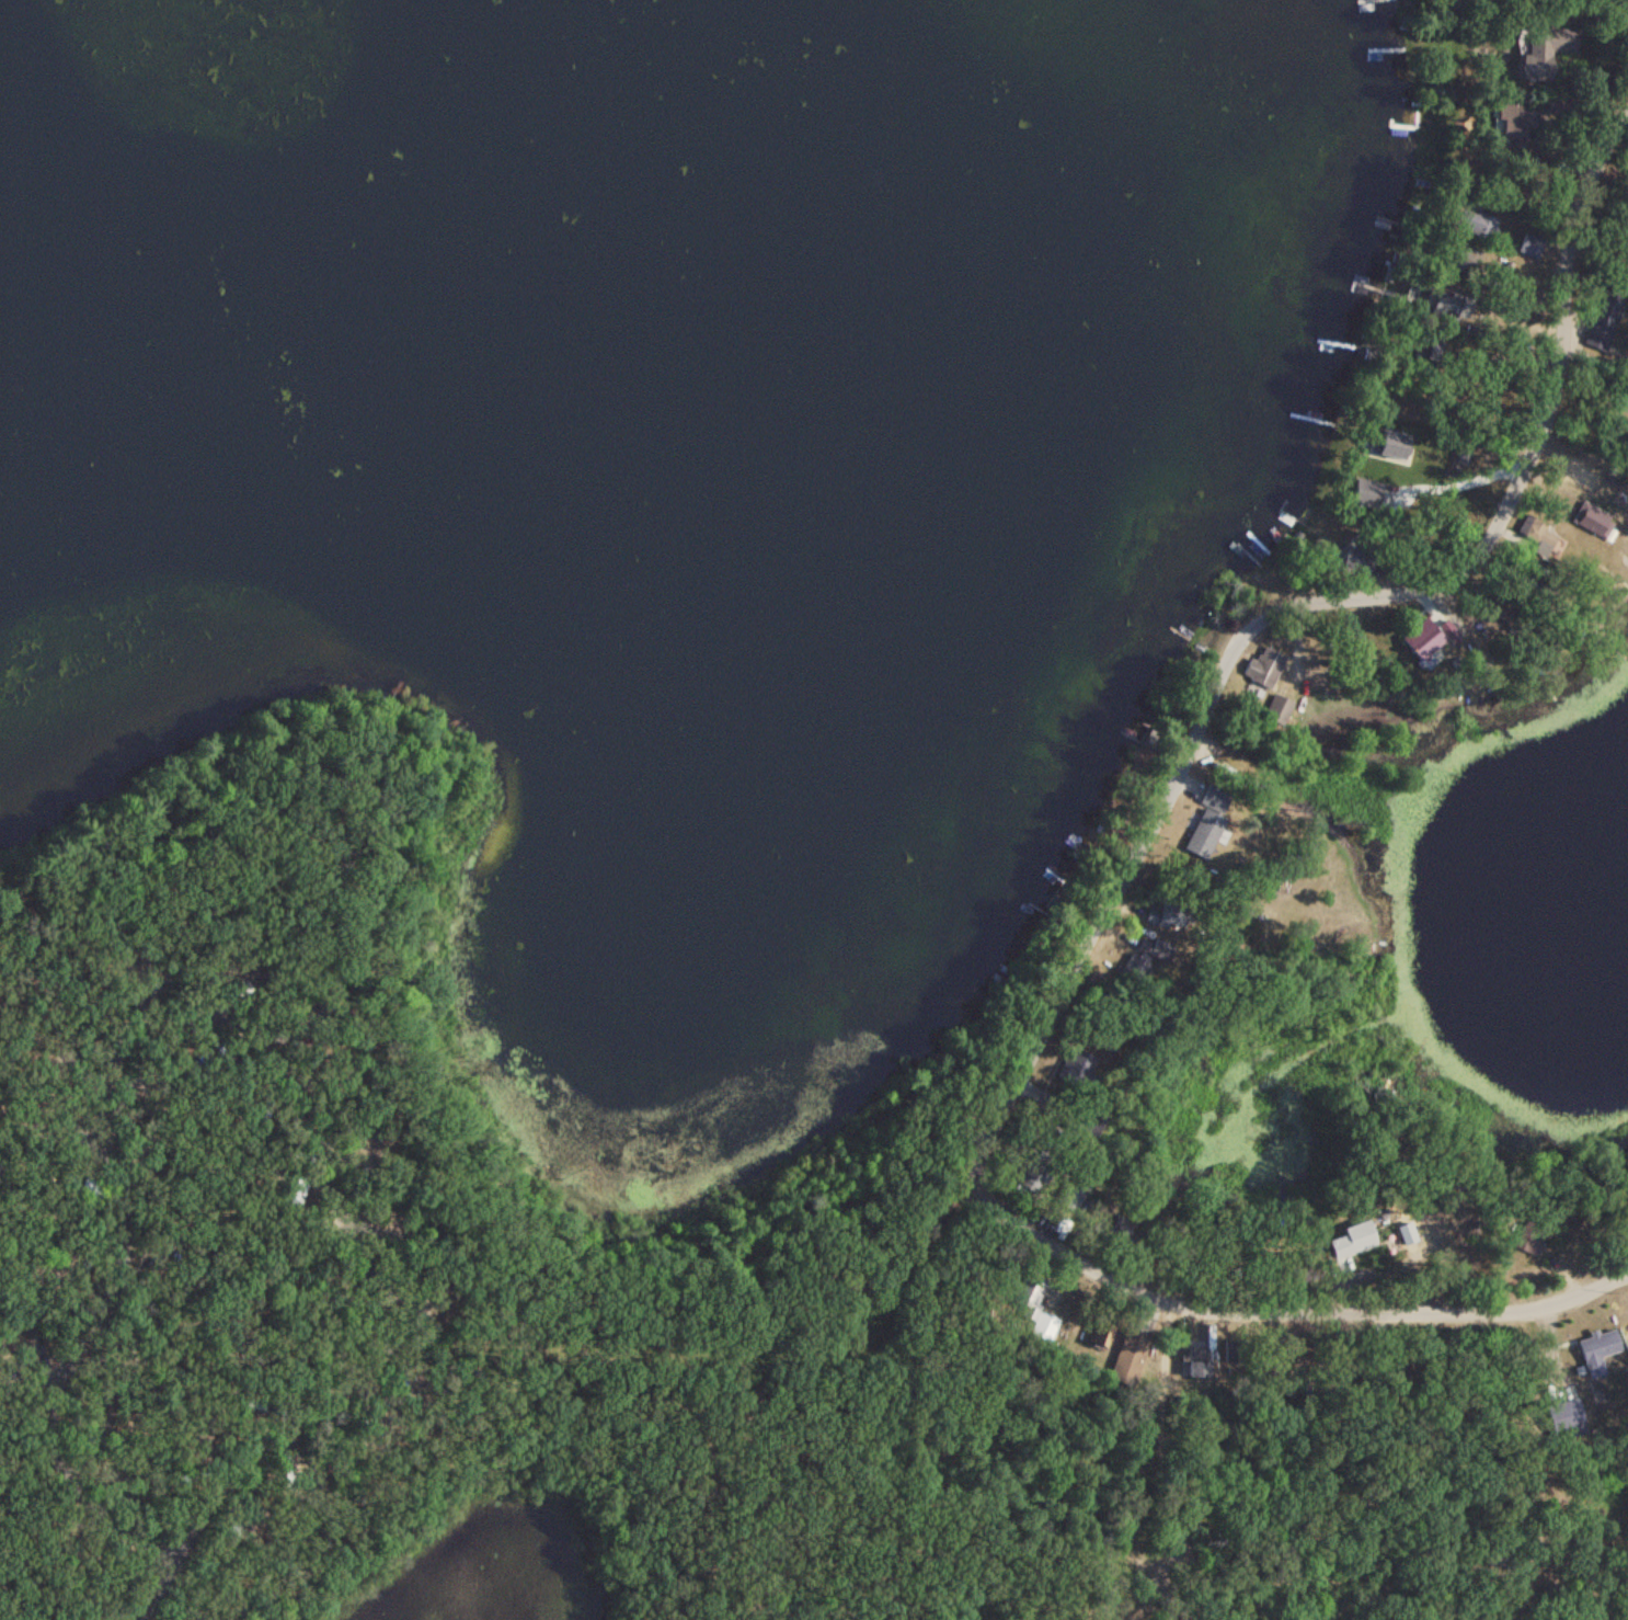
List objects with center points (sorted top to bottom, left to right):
building: (1538, 54)
building: (1510, 124)
building: (1353, 555)
road: (1292, 575)
building: (1419, 640)
building: (1264, 669)
building: (1207, 818)
building: (1165, 914)
building: (1158, 950)
road: (210, 1019)
building: (1070, 1065)
road: (1283, 1281)
building: (1030, 1309)
building: (1126, 1358)
building: (1192, 1364)
road: (1156, 1456)
road: (145, 1589)

